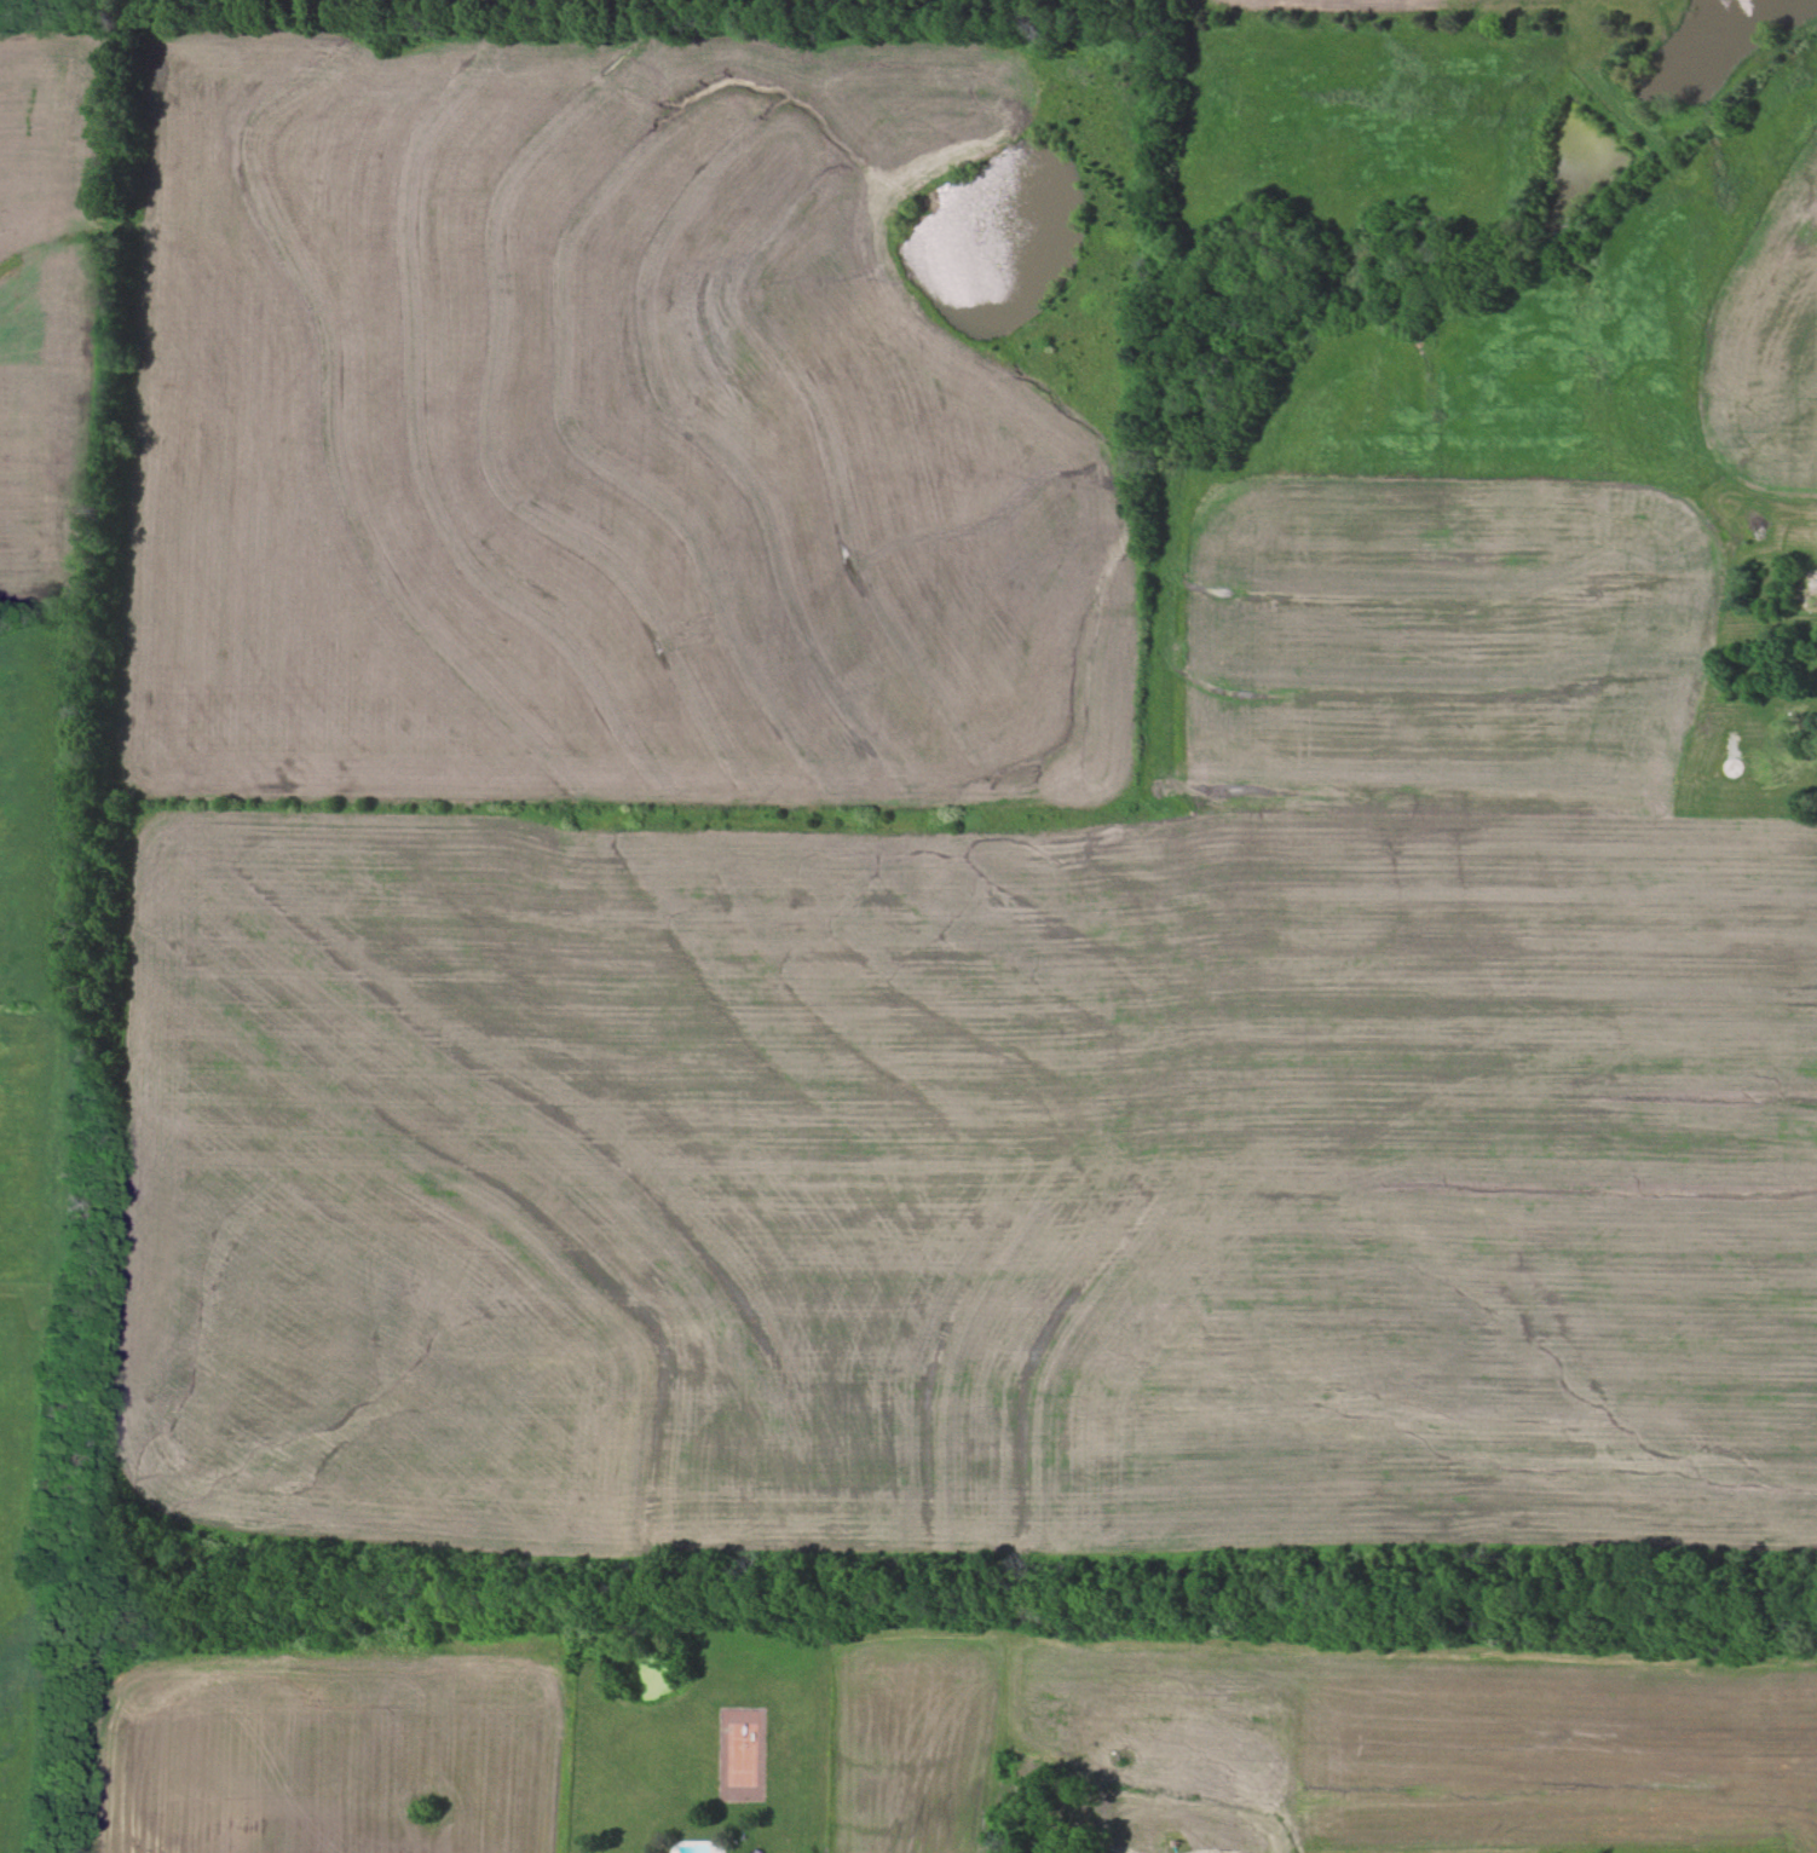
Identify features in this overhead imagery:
crop: (1657, 21)
crop: (47, 284)
crop: (29, 922)
crop: (964, 1179)
crop: (1338, 1745)
park: (742, 1754)
crop: (319, 1755)

